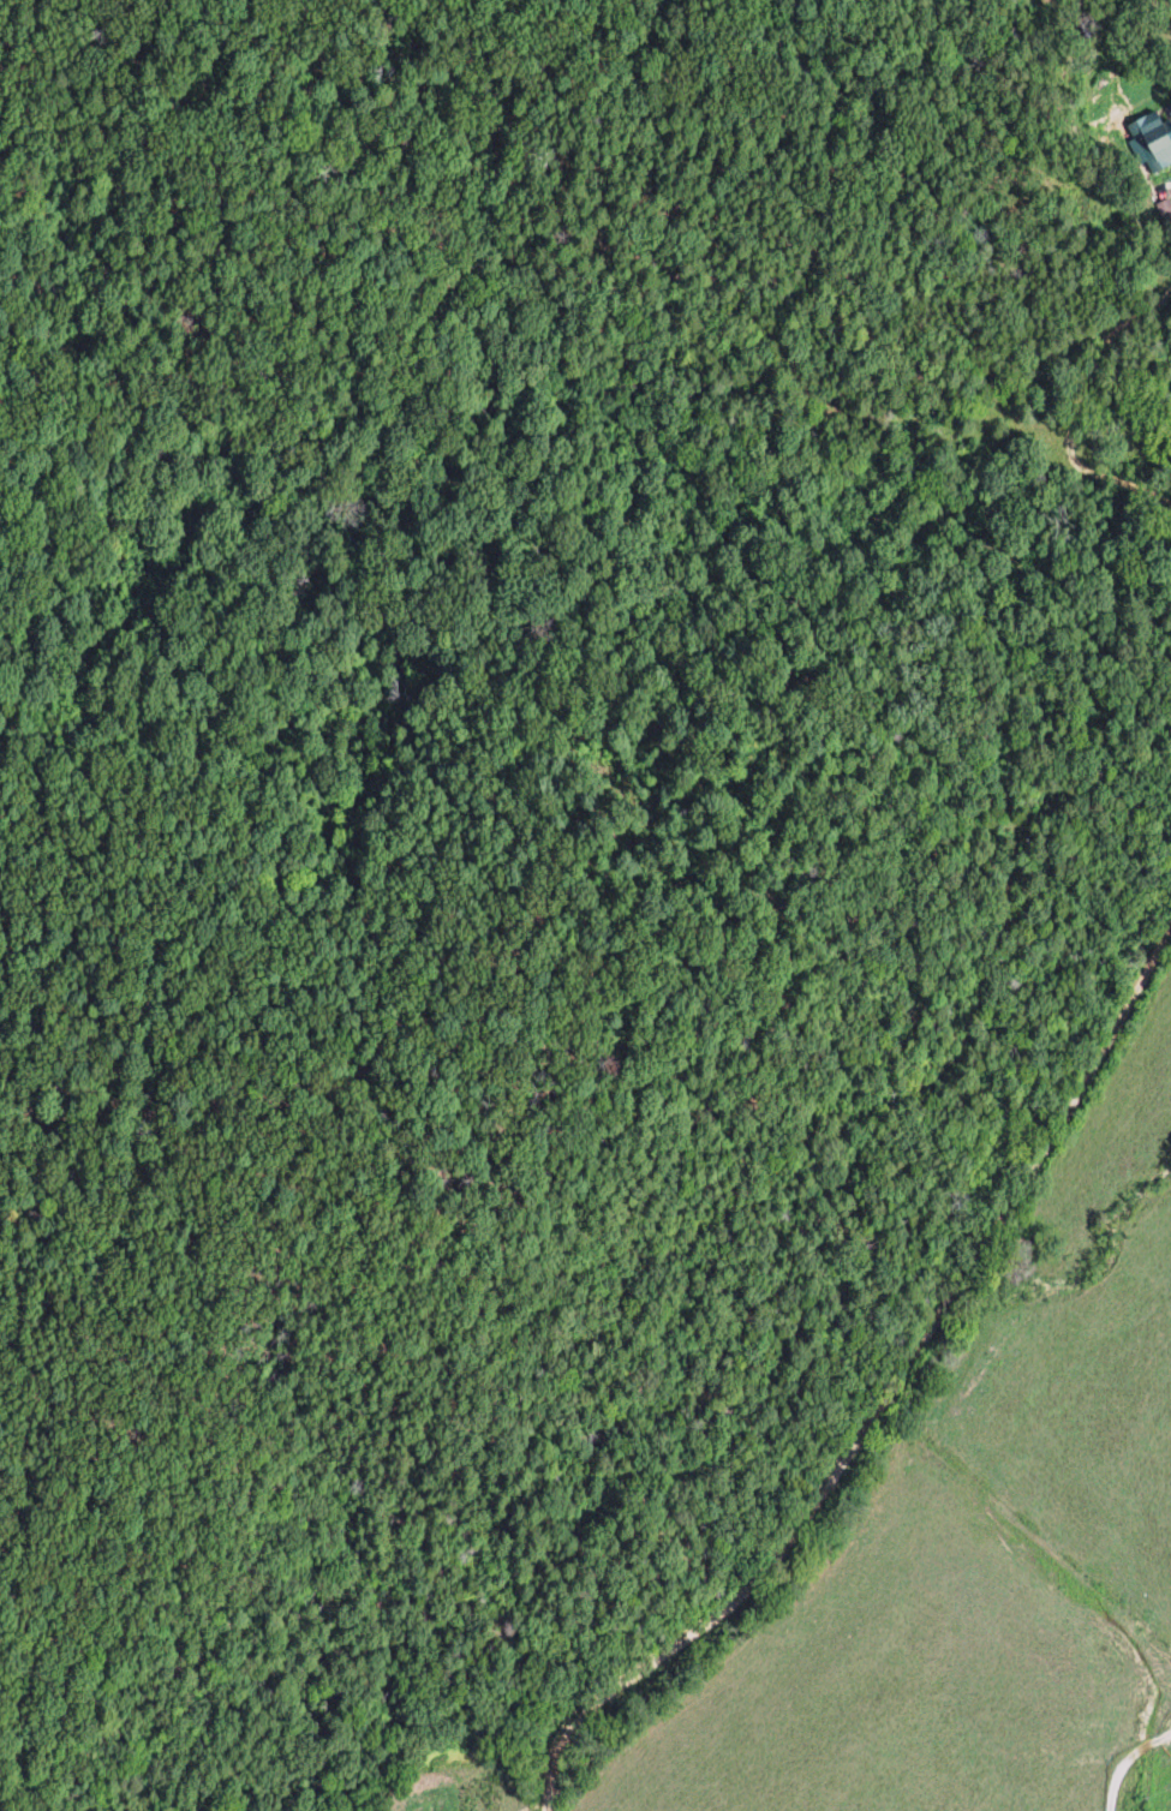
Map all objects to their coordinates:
building: (1160, 139)
road: (482, 1101)
road: (862, 1333)
road: (1139, 1775)

